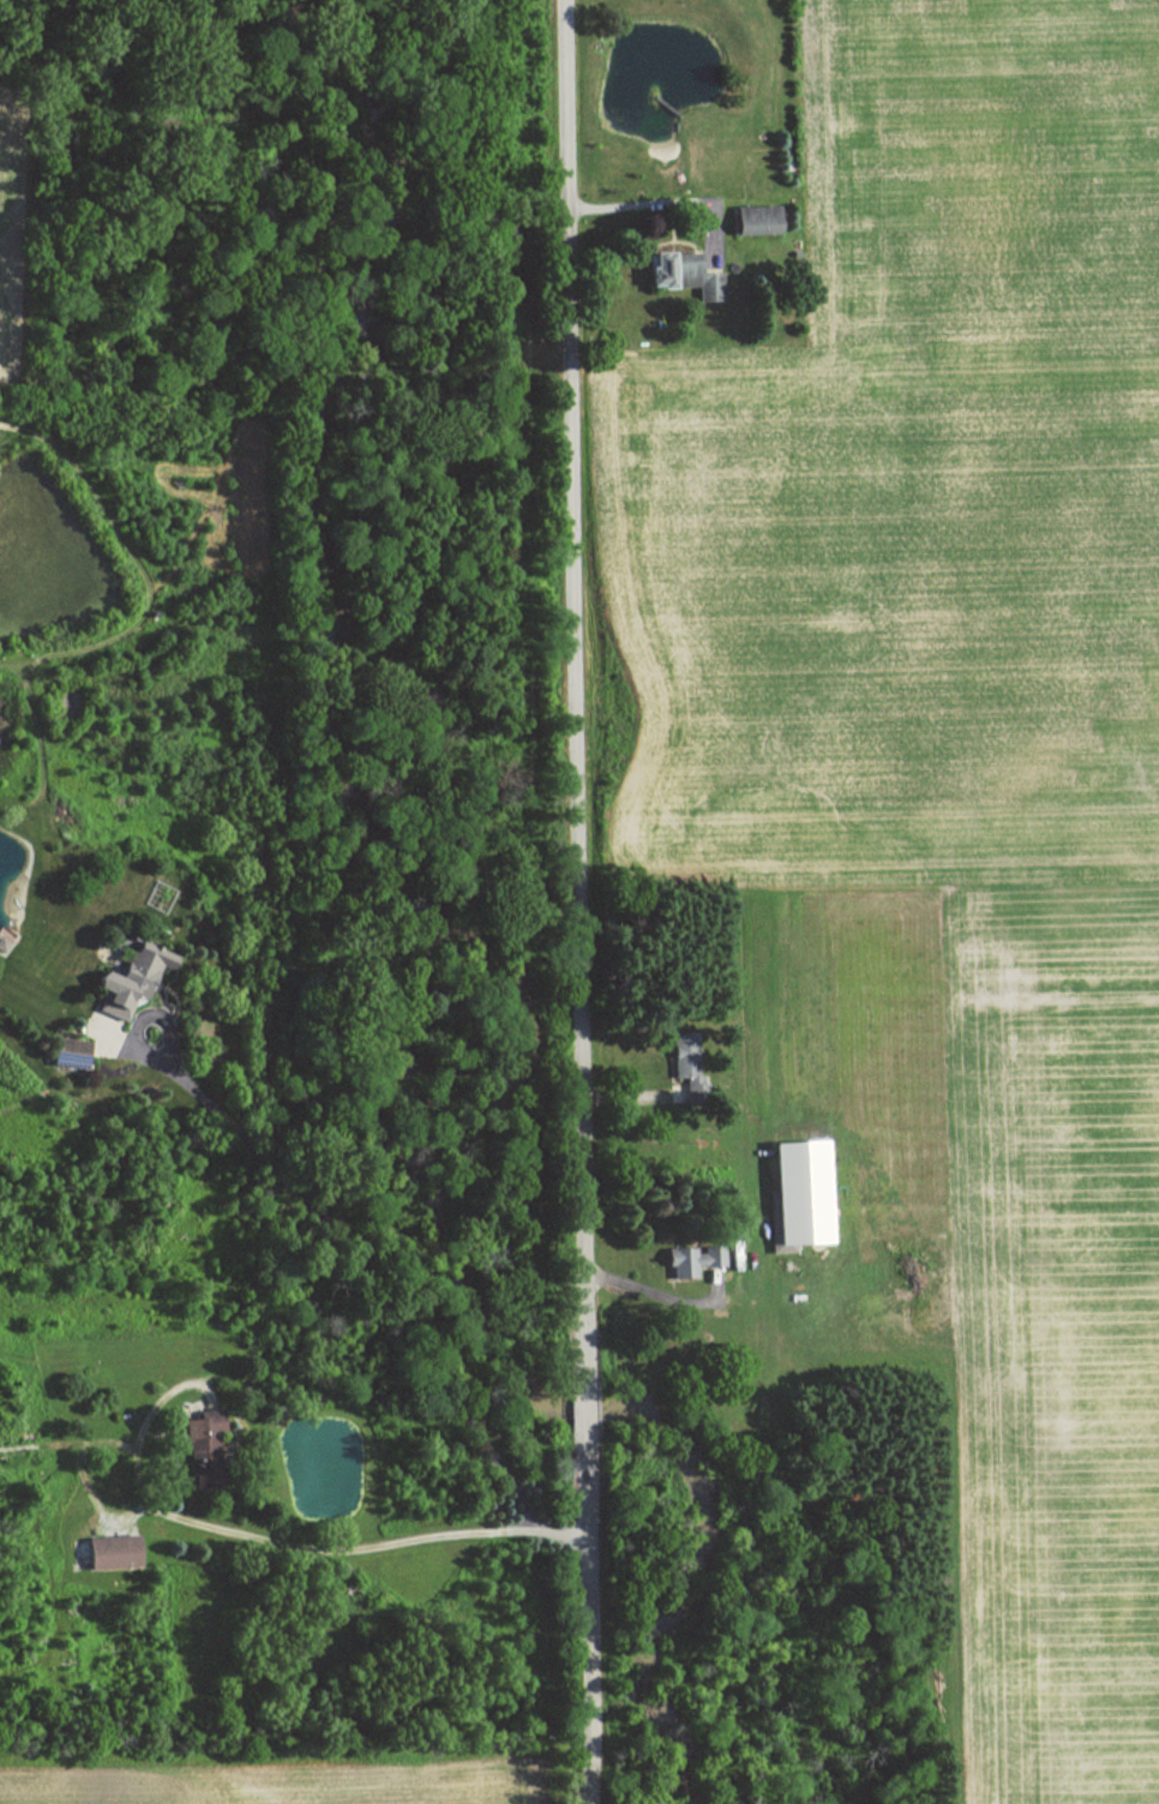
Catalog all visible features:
road: (659, 200)
building: (751, 220)
building: (680, 275)
road: (578, 693)
crop: (944, 778)
building: (1, 943)
building: (128, 978)
building: (65, 1053)
building: (681, 1061)
building: (795, 1193)
building: (689, 1260)
road: (649, 1291)
road: (587, 1410)
road: (283, 1544)
building: (107, 1553)
road: (593, 1619)

